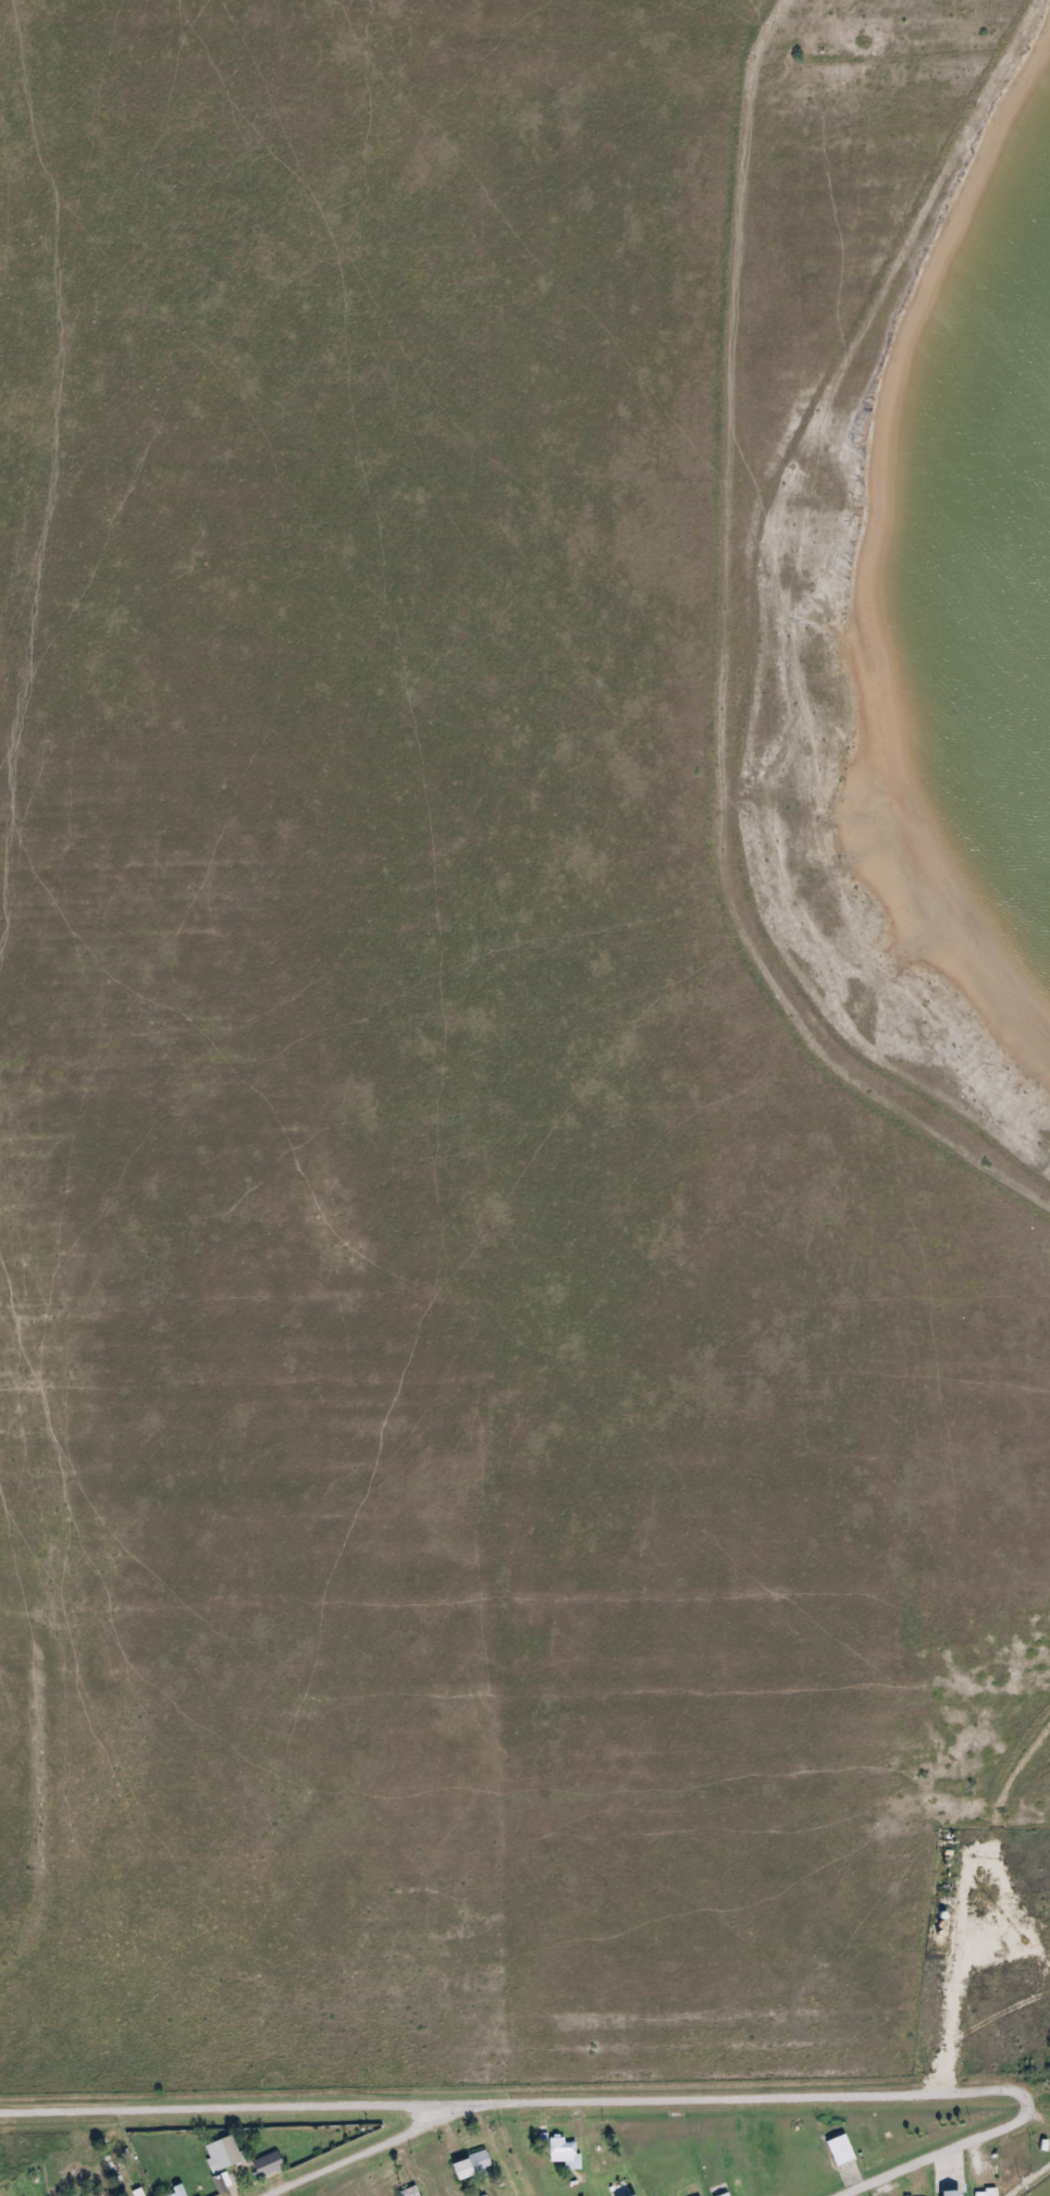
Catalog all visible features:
road: (519, 2104)
building: (842, 2149)
building: (565, 2152)
road: (361, 2156)
road: (940, 2156)
building: (269, 2163)
building: (473, 2164)
building: (954, 2193)
building: (637, 2195)

